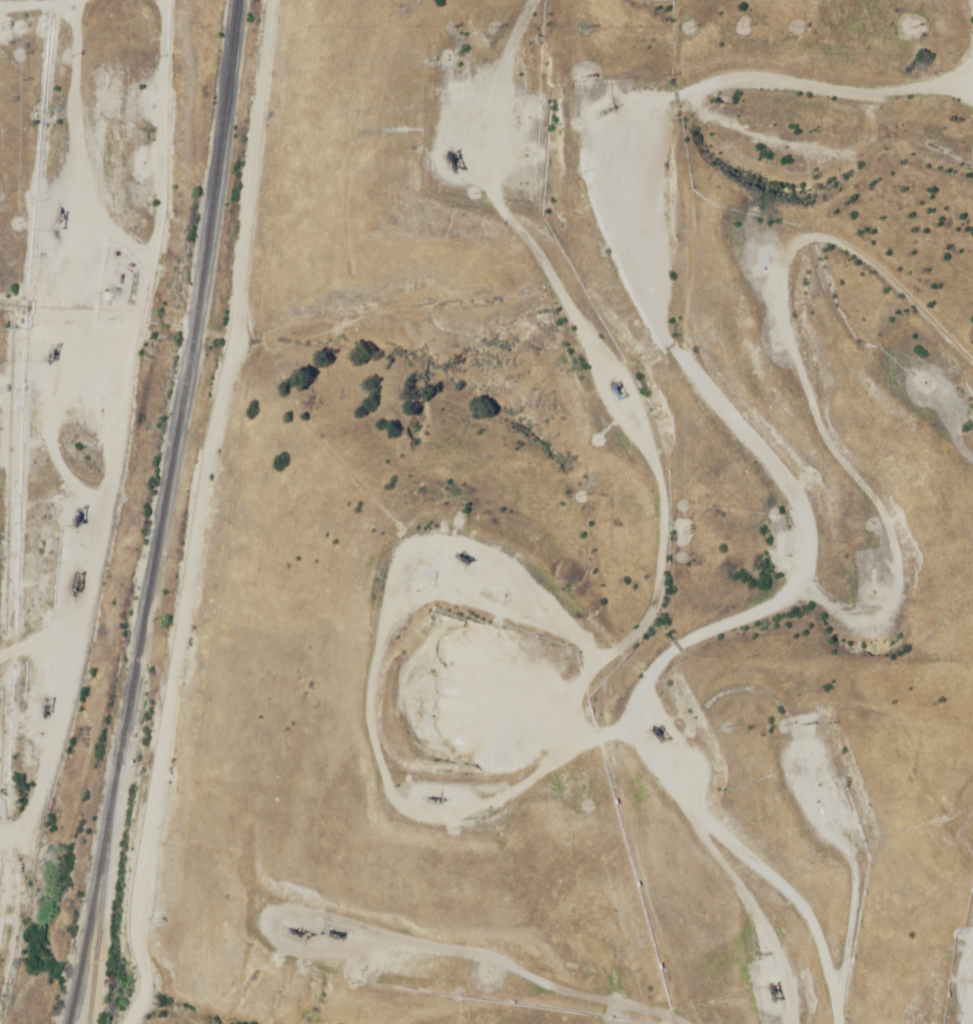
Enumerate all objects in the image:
road: (843, 5)
road: (45, 8)
road: (863, 24)
road: (790, 201)
road: (803, 245)
road: (63, 337)
railway: (182, 382)
road: (696, 421)
road: (963, 445)
road: (244, 517)
road: (601, 600)
road: (827, 747)
railway: (95, 894)
railway: (104, 894)
road: (933, 945)
road: (463, 967)

